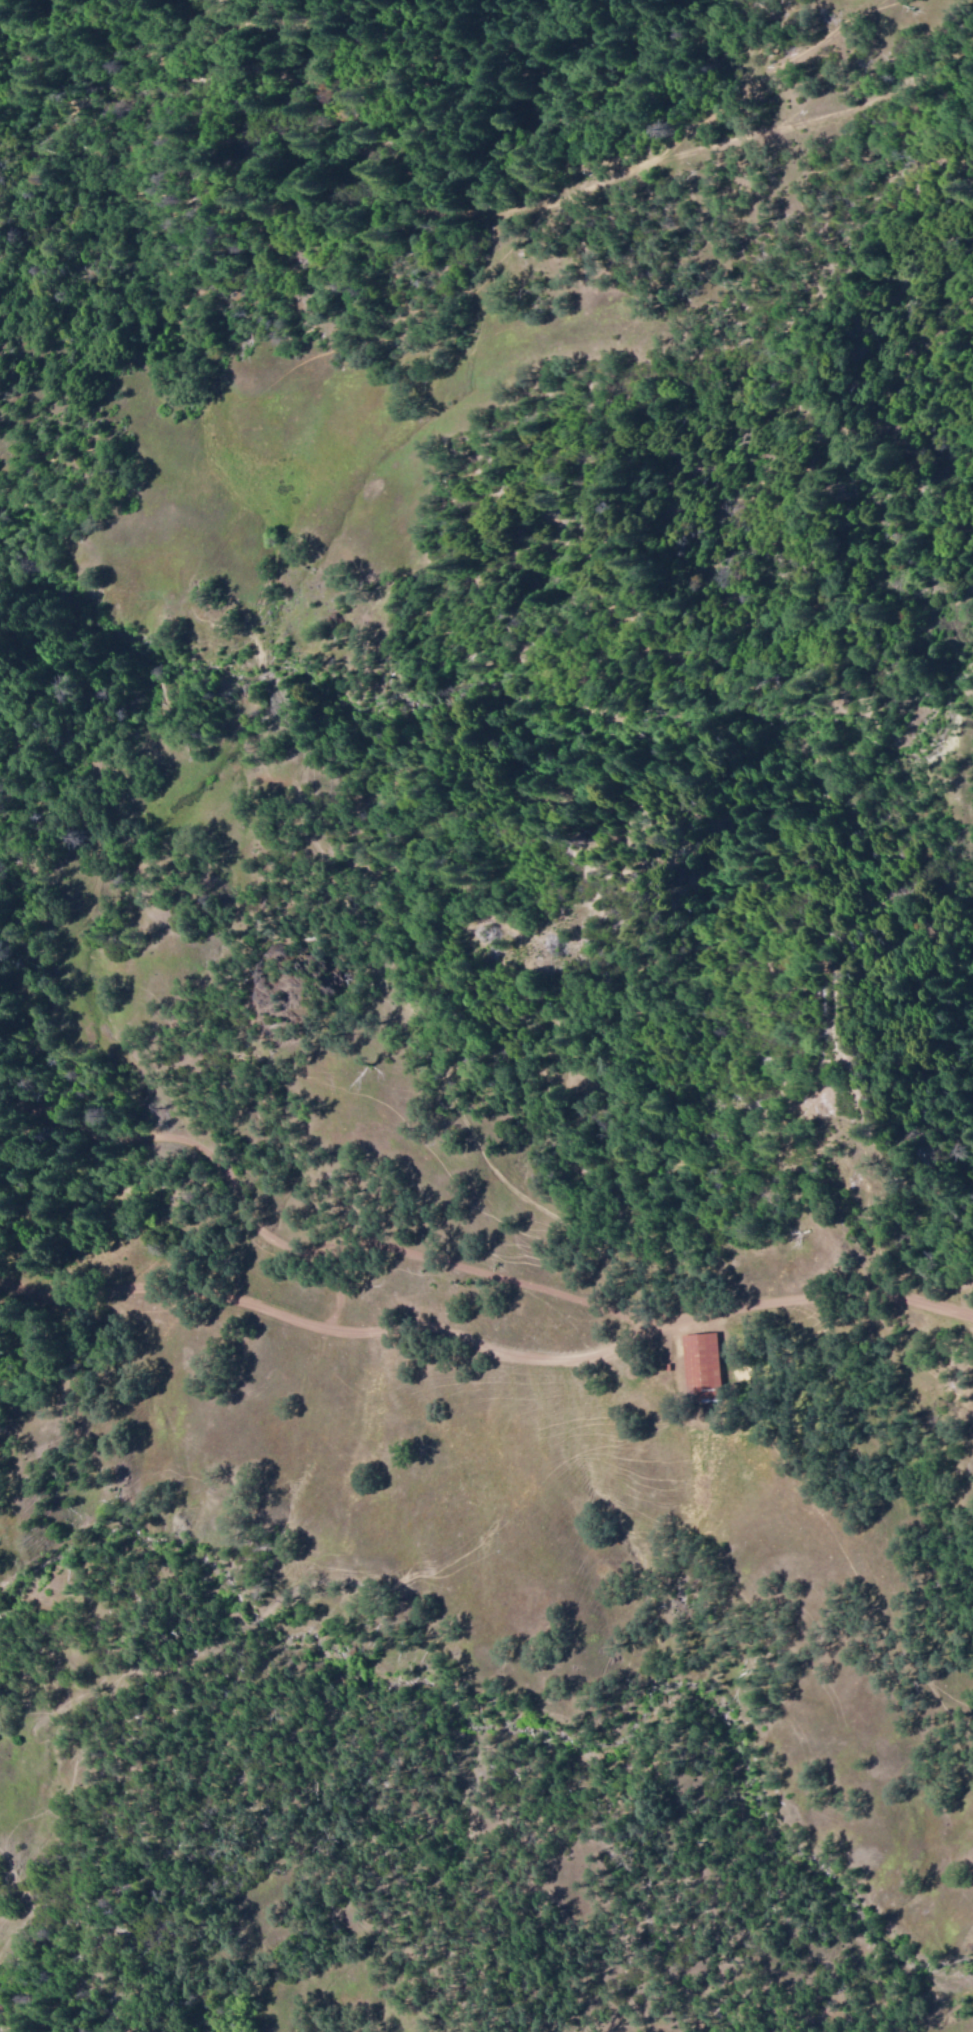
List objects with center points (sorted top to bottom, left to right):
road: (569, 189)
road: (320, 1223)
road: (486, 1345)
building: (701, 1360)

